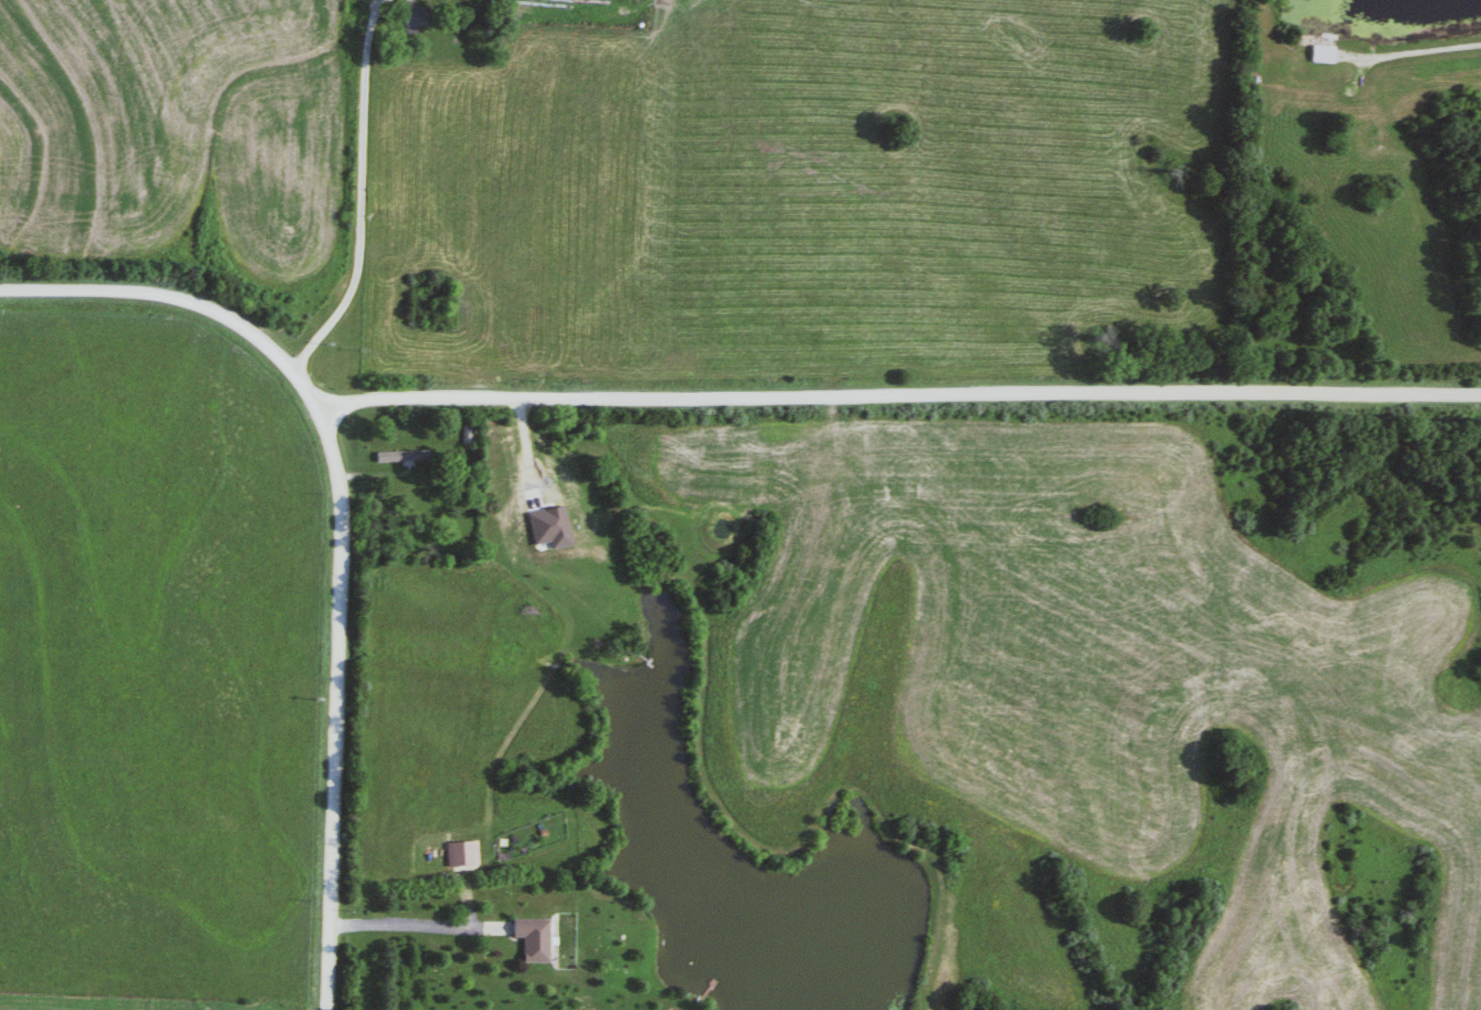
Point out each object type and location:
building: (409, 18)
road: (1424, 49)
road: (361, 193)
road: (899, 397)
building: (464, 435)
building: (397, 457)
road: (340, 526)
building: (458, 853)
road: (410, 925)
building: (526, 938)

